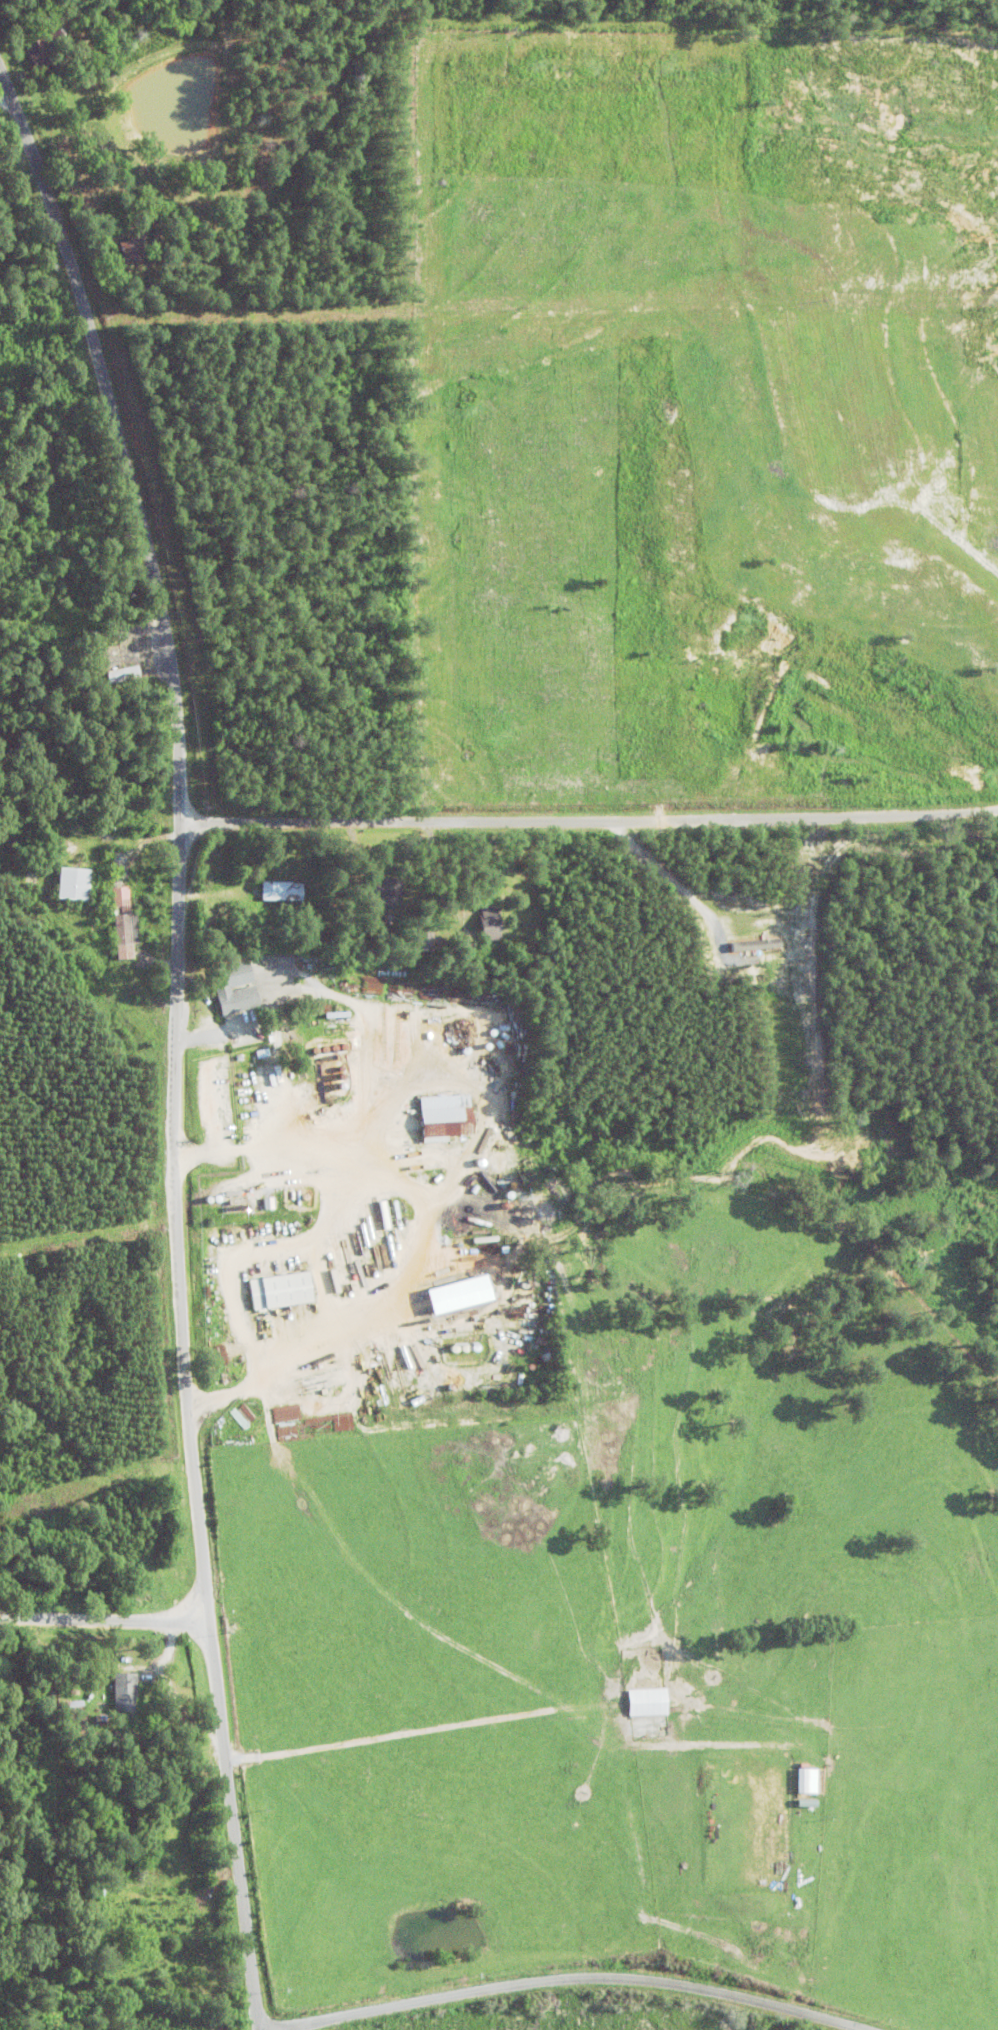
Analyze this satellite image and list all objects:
building: (20, 50)
building: (171, 272)
building: (107, 674)
road: (585, 798)
building: (110, 858)
building: (69, 884)
building: (277, 892)
building: (374, 893)
building: (475, 923)
building: (117, 924)
building: (231, 998)
road: (178, 1085)
building: (445, 1117)
building: (279, 1290)
road: (99, 1613)
building: (109, 1693)
building: (635, 1700)
road: (563, 1979)

